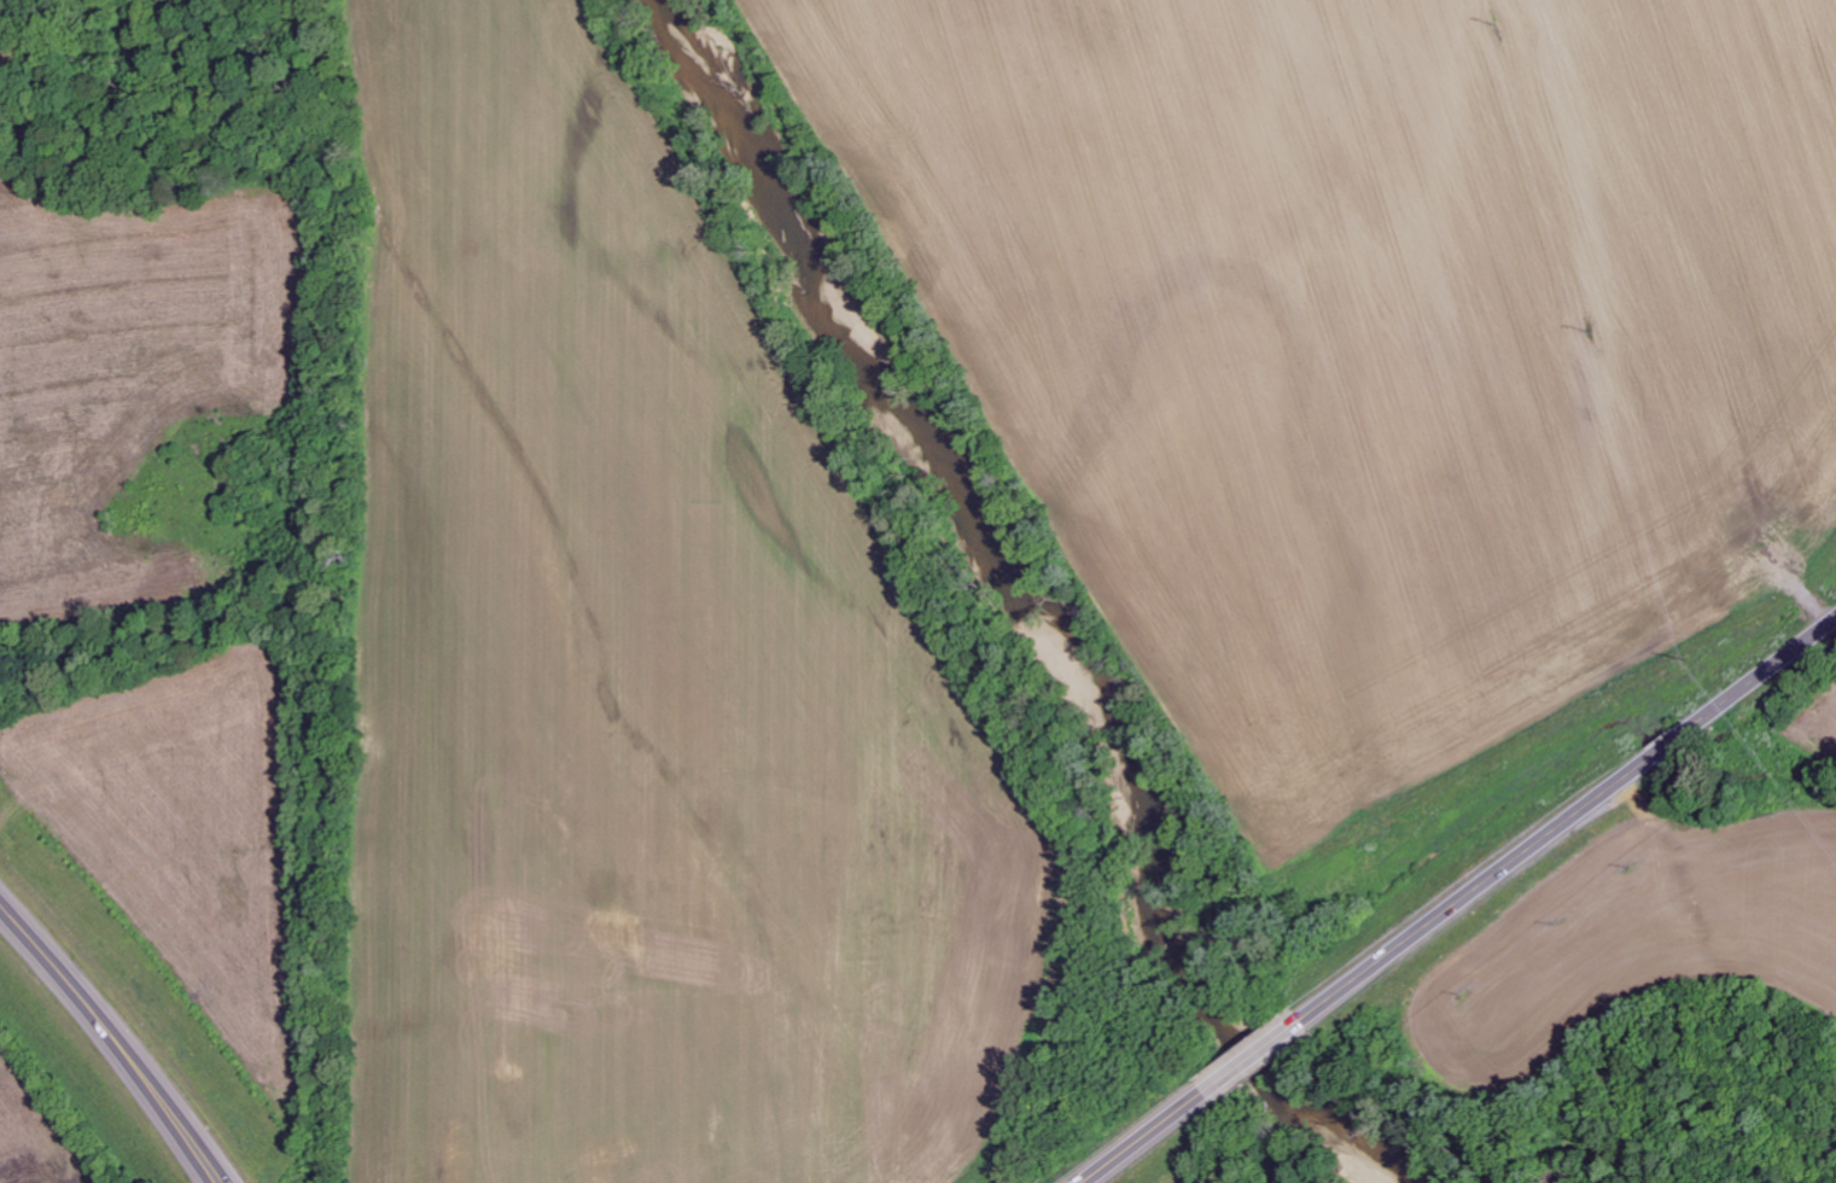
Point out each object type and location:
road: (1569, 820)
road: (116, 1038)
road: (1254, 1056)
road: (1146, 1137)

